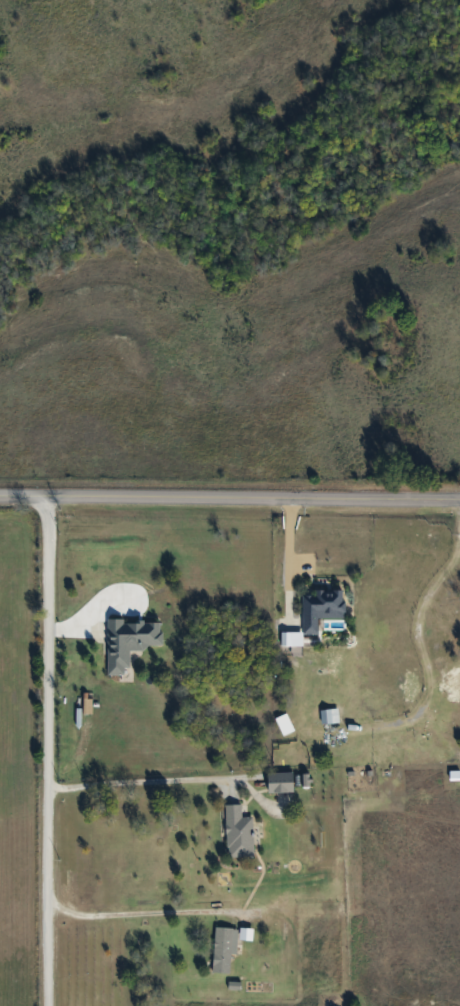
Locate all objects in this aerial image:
road: (230, 510)
road: (289, 567)
building: (318, 607)
building: (127, 642)
building: (328, 716)
road: (46, 757)
building: (278, 782)
road: (133, 784)
building: (237, 833)
road: (137, 915)
building: (224, 948)

